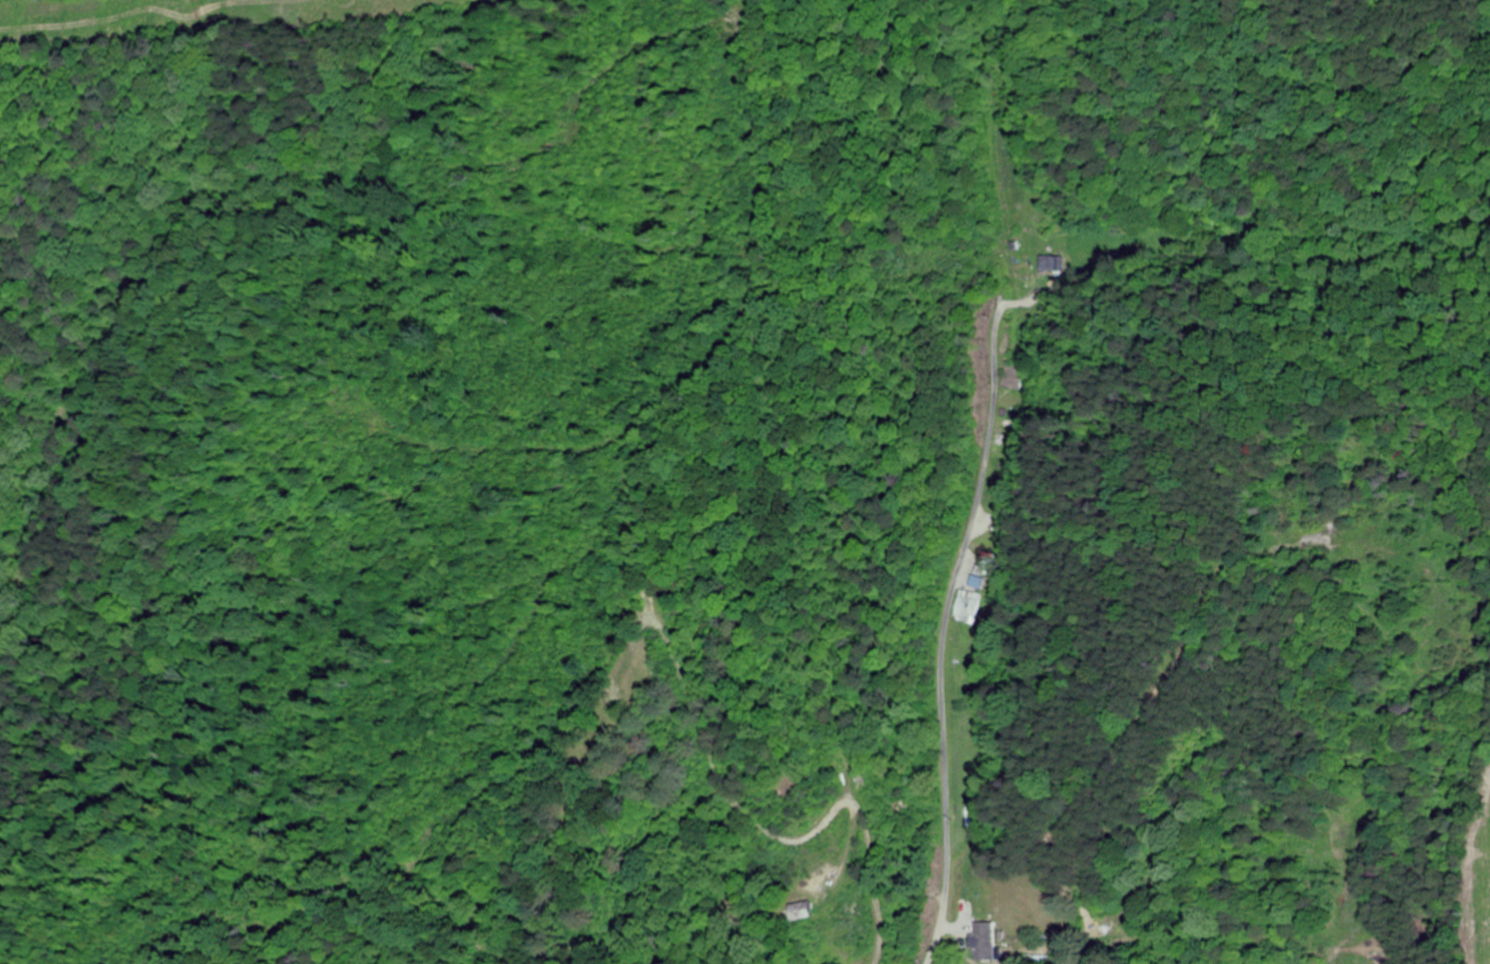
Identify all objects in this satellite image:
building: (1050, 264)
building: (967, 609)
road: (943, 628)
building: (806, 911)
building: (985, 942)

